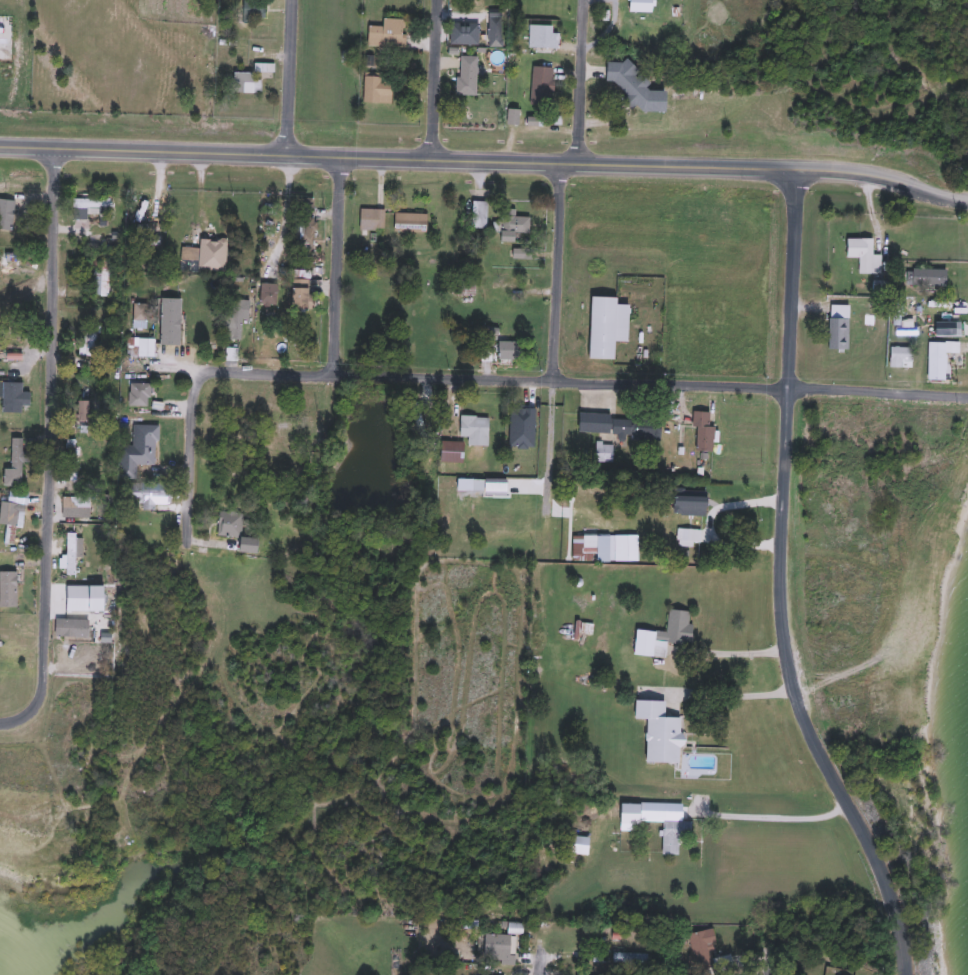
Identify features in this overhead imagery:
building: (254, 10)
building: (388, 34)
building: (540, 36)
building: (644, 37)
building: (467, 75)
road: (288, 76)
road: (434, 78)
road: (580, 79)
building: (247, 84)
building: (541, 86)
building: (377, 88)
building: (651, 102)
road: (486, 158)
building: (141, 199)
building: (91, 203)
building: (307, 205)
building: (7, 214)
building: (479, 216)
building: (372, 220)
building: (410, 223)
building: (513, 229)
building: (305, 235)
building: (863, 255)
building: (206, 257)
road: (337, 262)
building: (929, 278)
building: (102, 280)
building: (302, 293)
building: (269, 294)
building: (212, 296)
building: (140, 315)
building: (236, 318)
building: (608, 326)
building: (840, 328)
building: (183, 336)
building: (89, 339)
building: (145, 348)
building: (510, 350)
building: (231, 354)
building: (14, 356)
building: (902, 357)
building: (940, 358)
road: (551, 359)
road: (339, 371)
road: (819, 386)
building: (140, 394)
building: (15, 397)
building: (85, 410)
road: (318, 421)
building: (622, 425)
building: (476, 429)
building: (704, 432)
road: (48, 446)
building: (139, 450)
building: (453, 451)
building: (605, 452)
building: (274, 453)
building: (71, 459)
building: (15, 460)
building: (150, 494)
building: (688, 501)
building: (76, 507)
building: (9, 520)
road: (709, 525)
building: (237, 529)
building: (689, 538)
building: (591, 548)
building: (70, 554)
road: (779, 584)
building: (9, 588)
building: (87, 597)
building: (73, 629)
building: (666, 634)
building: (14, 644)
road: (730, 651)
road: (725, 692)
building: (661, 731)
road: (772, 817)
building: (677, 829)
building: (703, 948)
building: (500, 949)
building: (630, 958)
road: (770, 962)
road: (534, 967)

